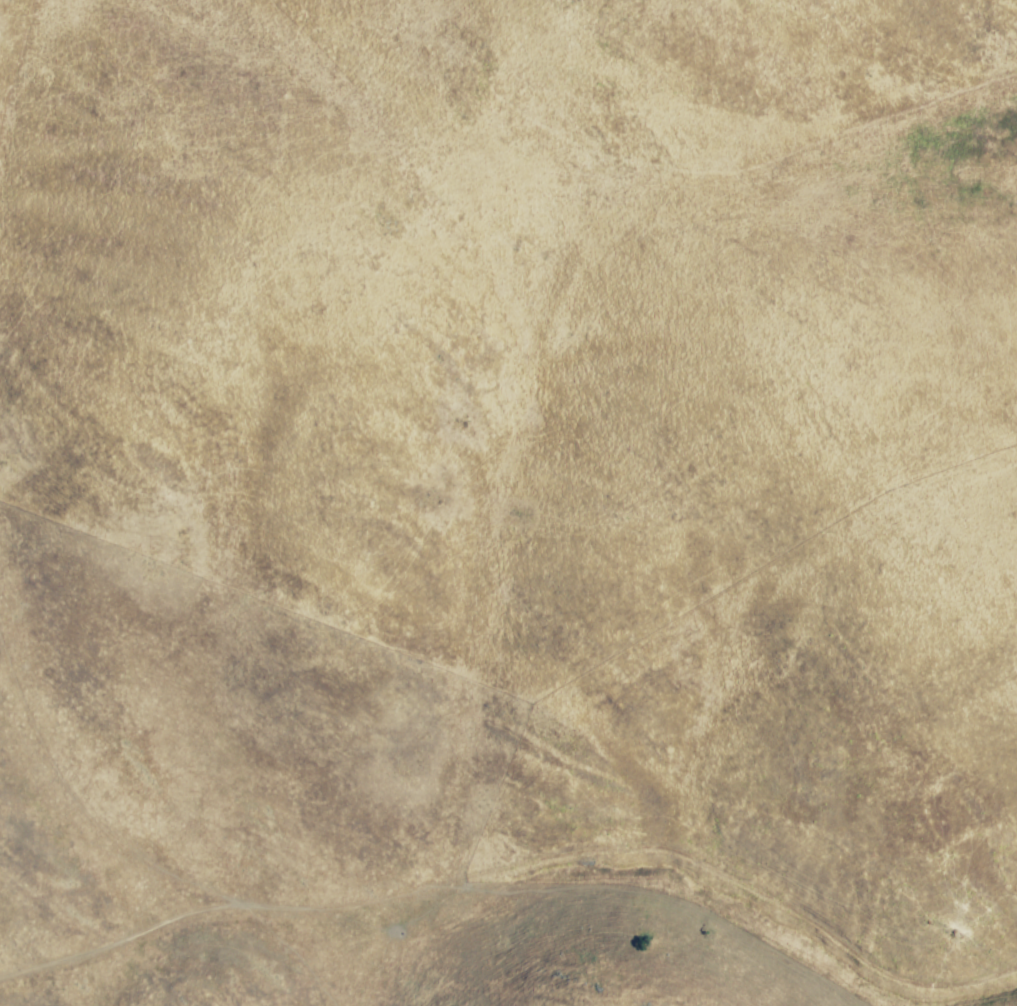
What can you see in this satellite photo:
road: (521, 875)

